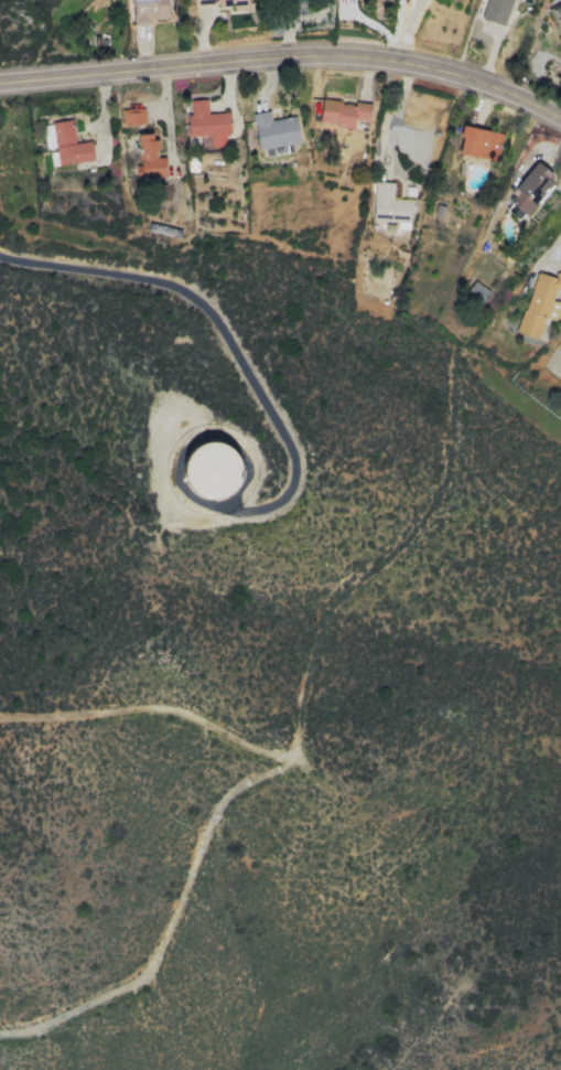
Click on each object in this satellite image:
building: (225, 3)
building: (148, 10)
building: (495, 10)
building: (555, 14)
road: (298, 25)
road: (285, 62)
road: (554, 101)
road: (386, 111)
building: (342, 113)
building: (132, 116)
building: (207, 122)
building: (273, 130)
building: (47, 136)
building: (478, 142)
building: (69, 145)
building: (148, 159)
building: (530, 188)
building: (388, 204)
road: (547, 244)
building: (476, 288)
building: (539, 306)
road: (225, 333)
building: (560, 352)
building: (212, 469)
road: (237, 794)

